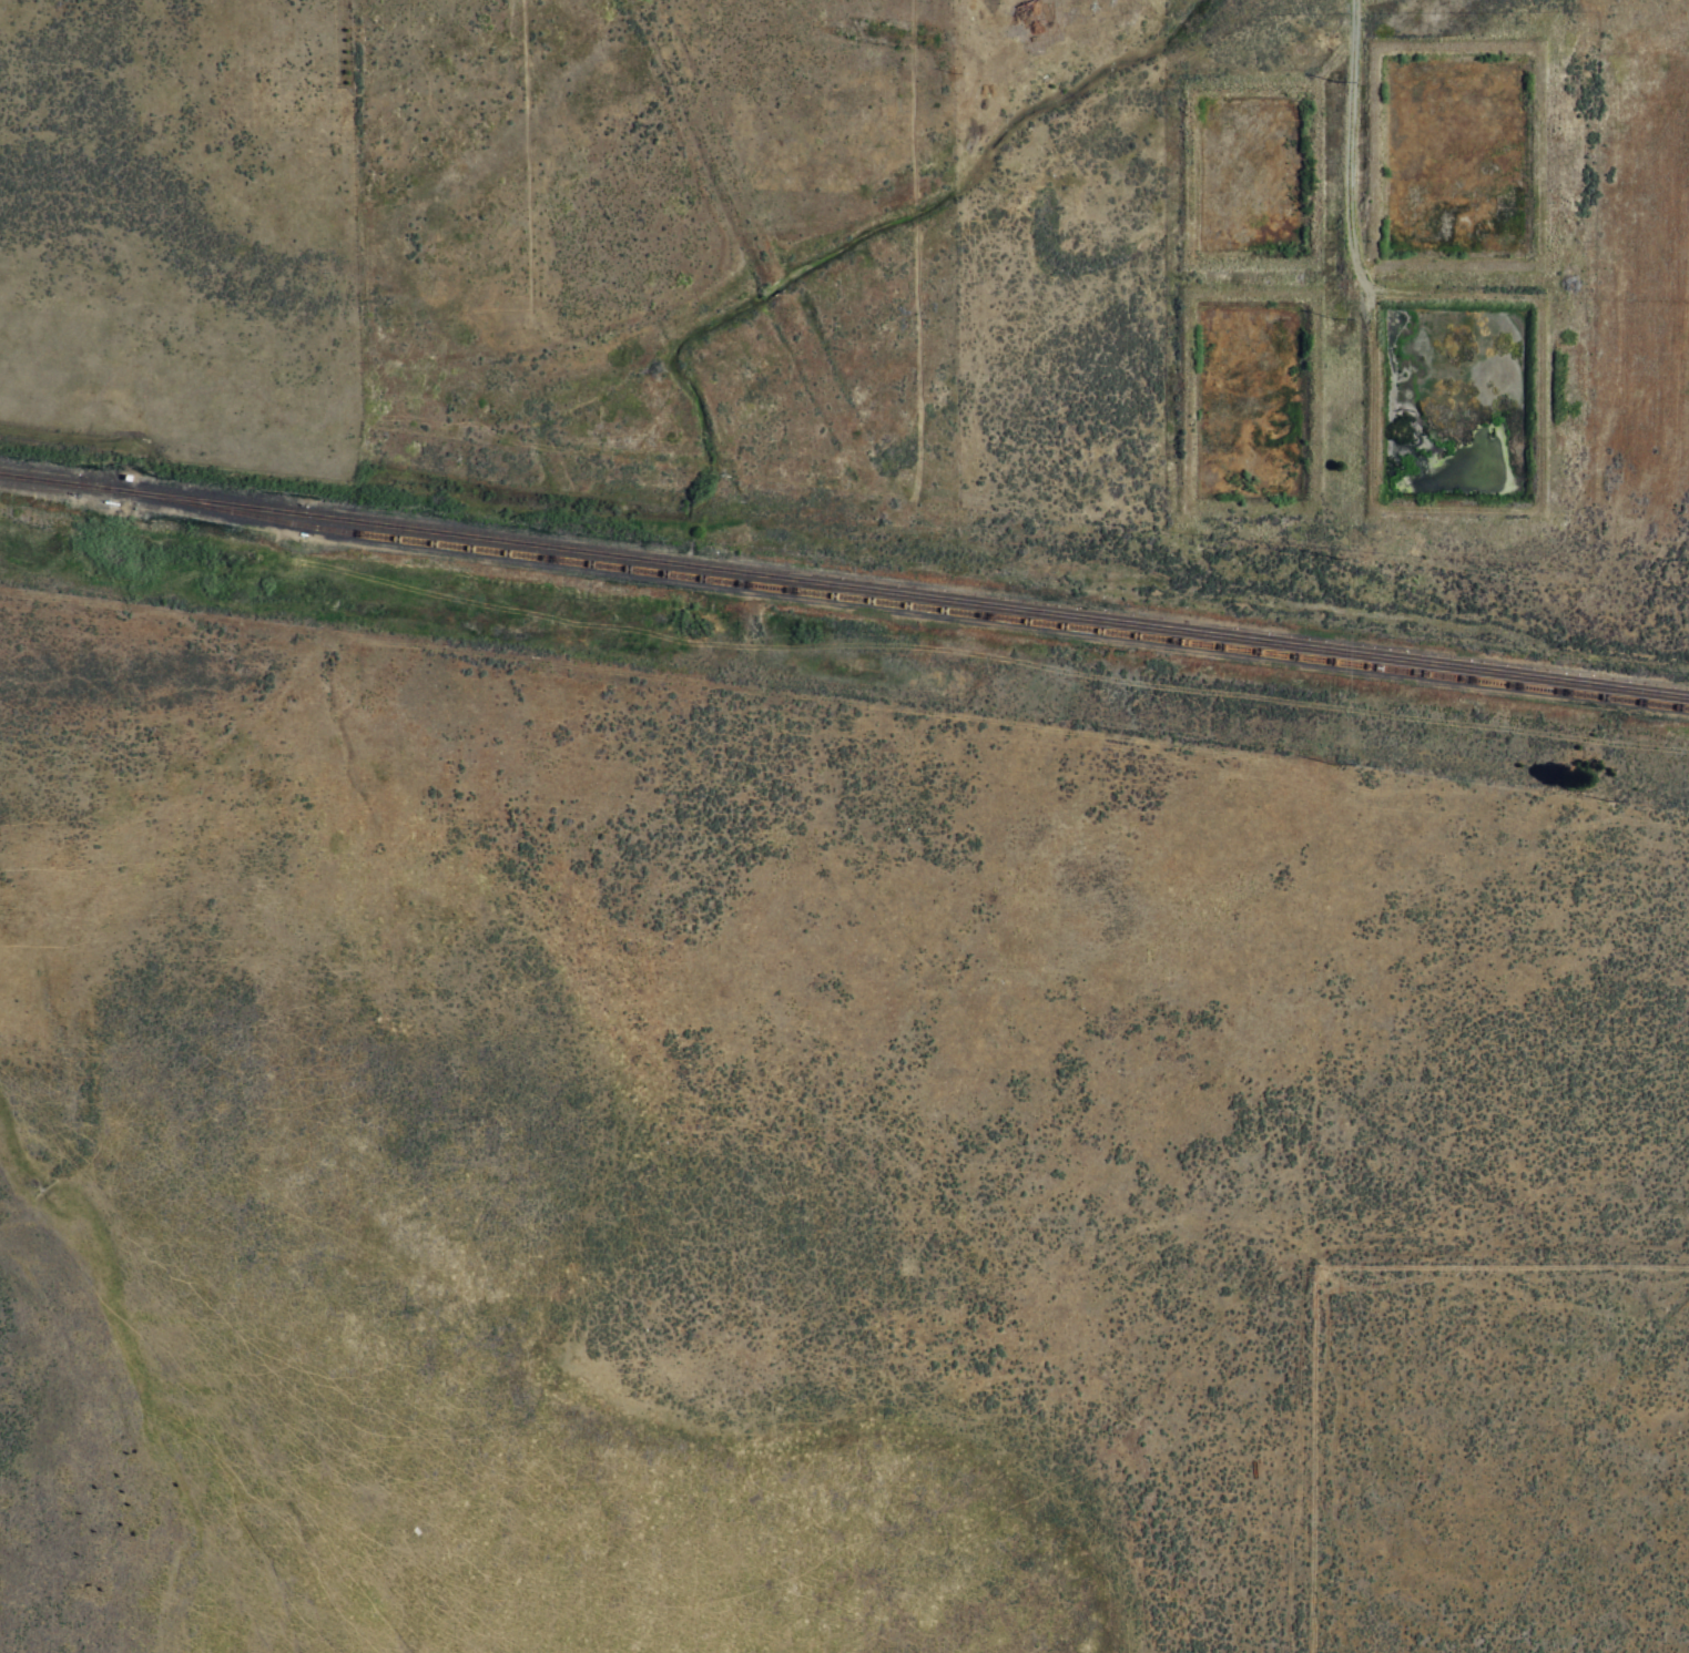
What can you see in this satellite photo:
road: (711, 40)
railway: (55, 481)
railway: (901, 592)
railway: (898, 604)
crop: (815, 1125)

